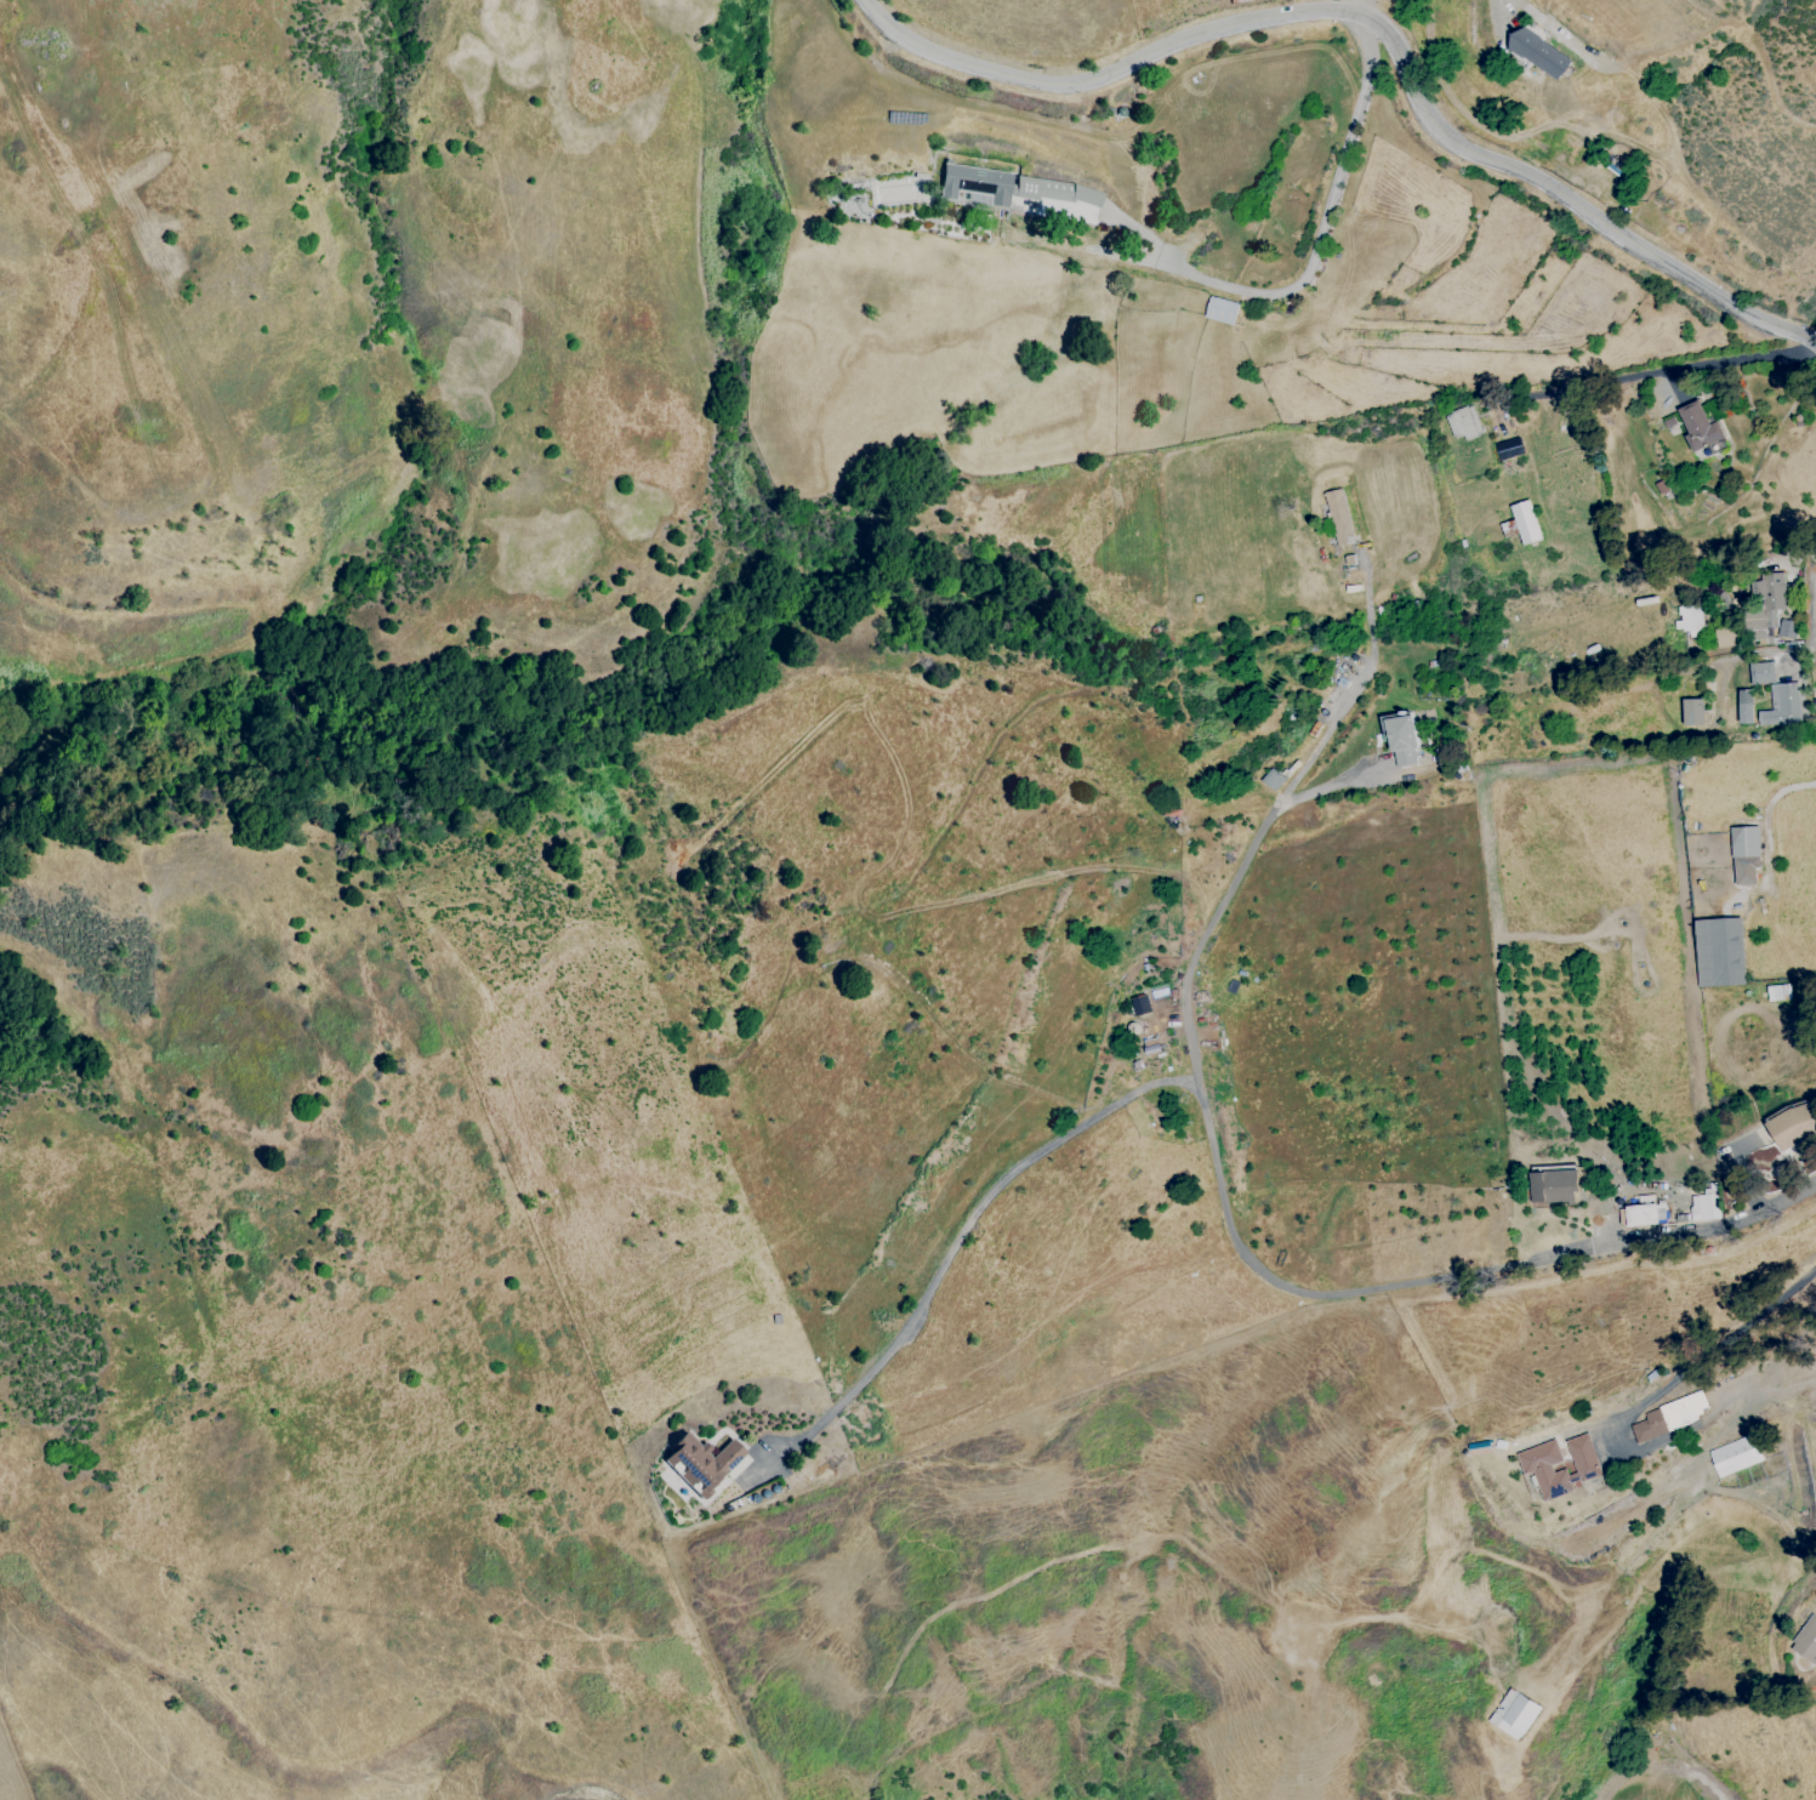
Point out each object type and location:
road: (1347, 4)
road: (1524, 5)
road: (1377, 28)
building: (1538, 53)
building: (1018, 192)
road: (1321, 235)
building: (1222, 311)
road: (1679, 368)
building: (1463, 423)
building: (1698, 426)
building: (1509, 449)
building: (1338, 517)
building: (1522, 523)
road: (1814, 579)
building: (1765, 604)
building: (1691, 620)
building: (1786, 630)
building: (1725, 636)
building: (1761, 672)
building: (1744, 706)
building: (1781, 706)
building: (1692, 712)
building: (1402, 741)
building: (1273, 779)
road: (1784, 790)
building: (1744, 855)
building: (1719, 952)
building: (1792, 1126)
road: (1219, 1181)
building: (1554, 1186)
building: (1704, 1207)
building: (1646, 1214)
road: (955, 1242)
road: (1701, 1356)
building: (1668, 1417)
building: (1735, 1456)
building: (700, 1462)
building: (1536, 1465)
building: (1806, 1641)
building: (1515, 1714)

